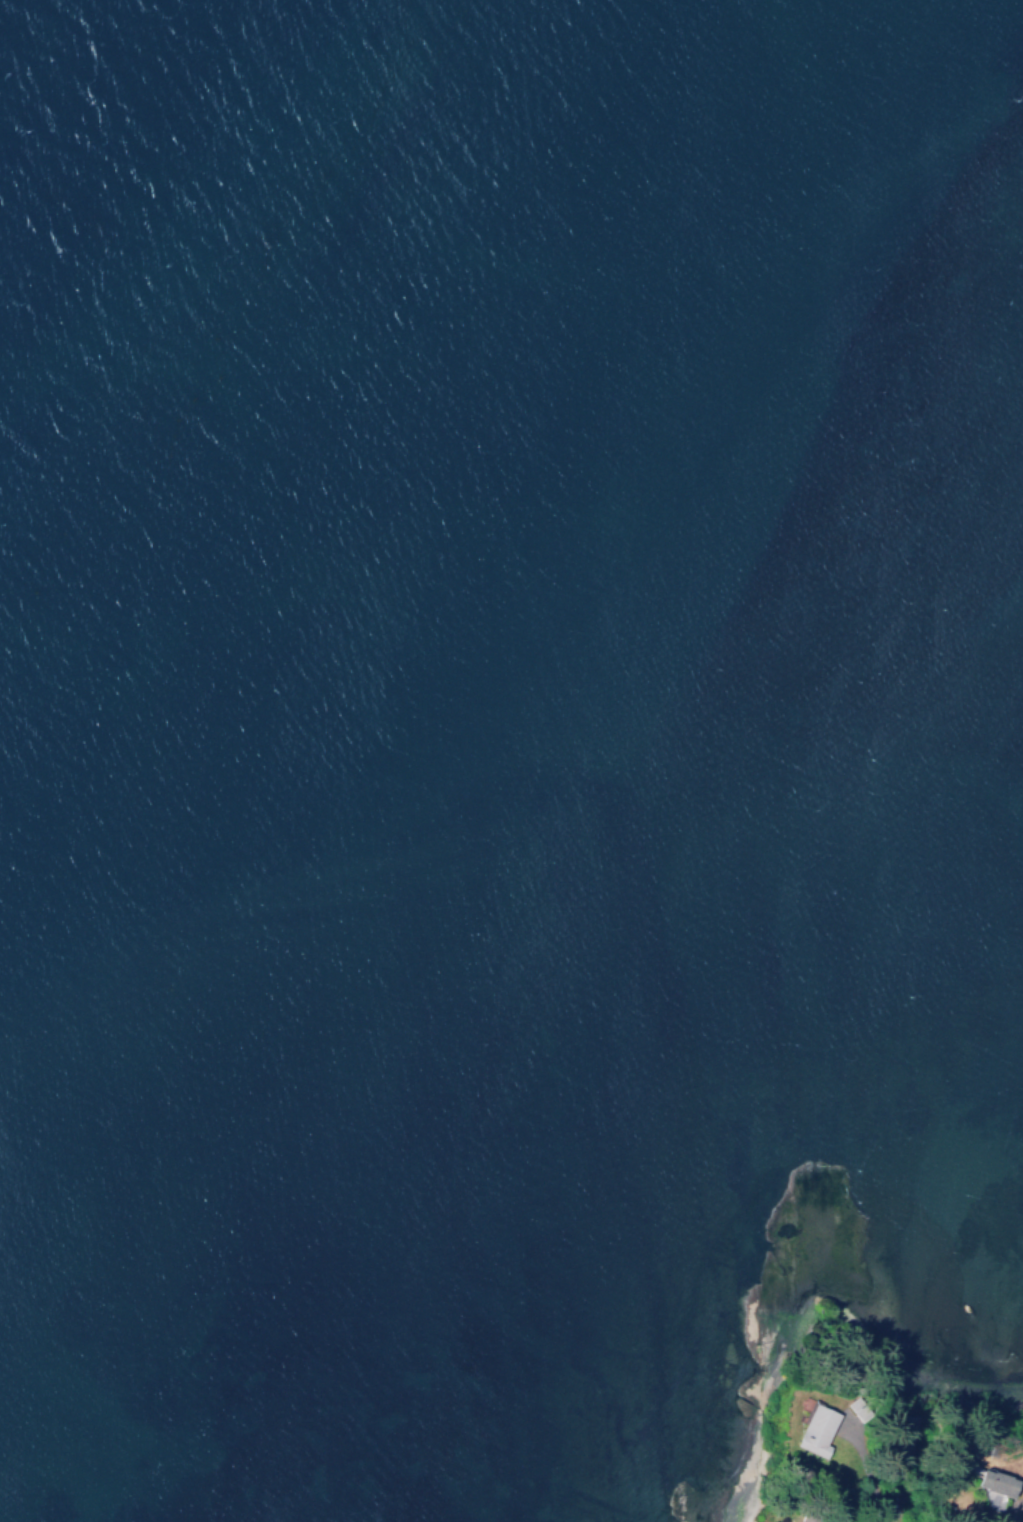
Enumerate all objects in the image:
river: (1, 3)
building: (823, 1429)
building: (997, 1478)
road: (1020, 1519)

